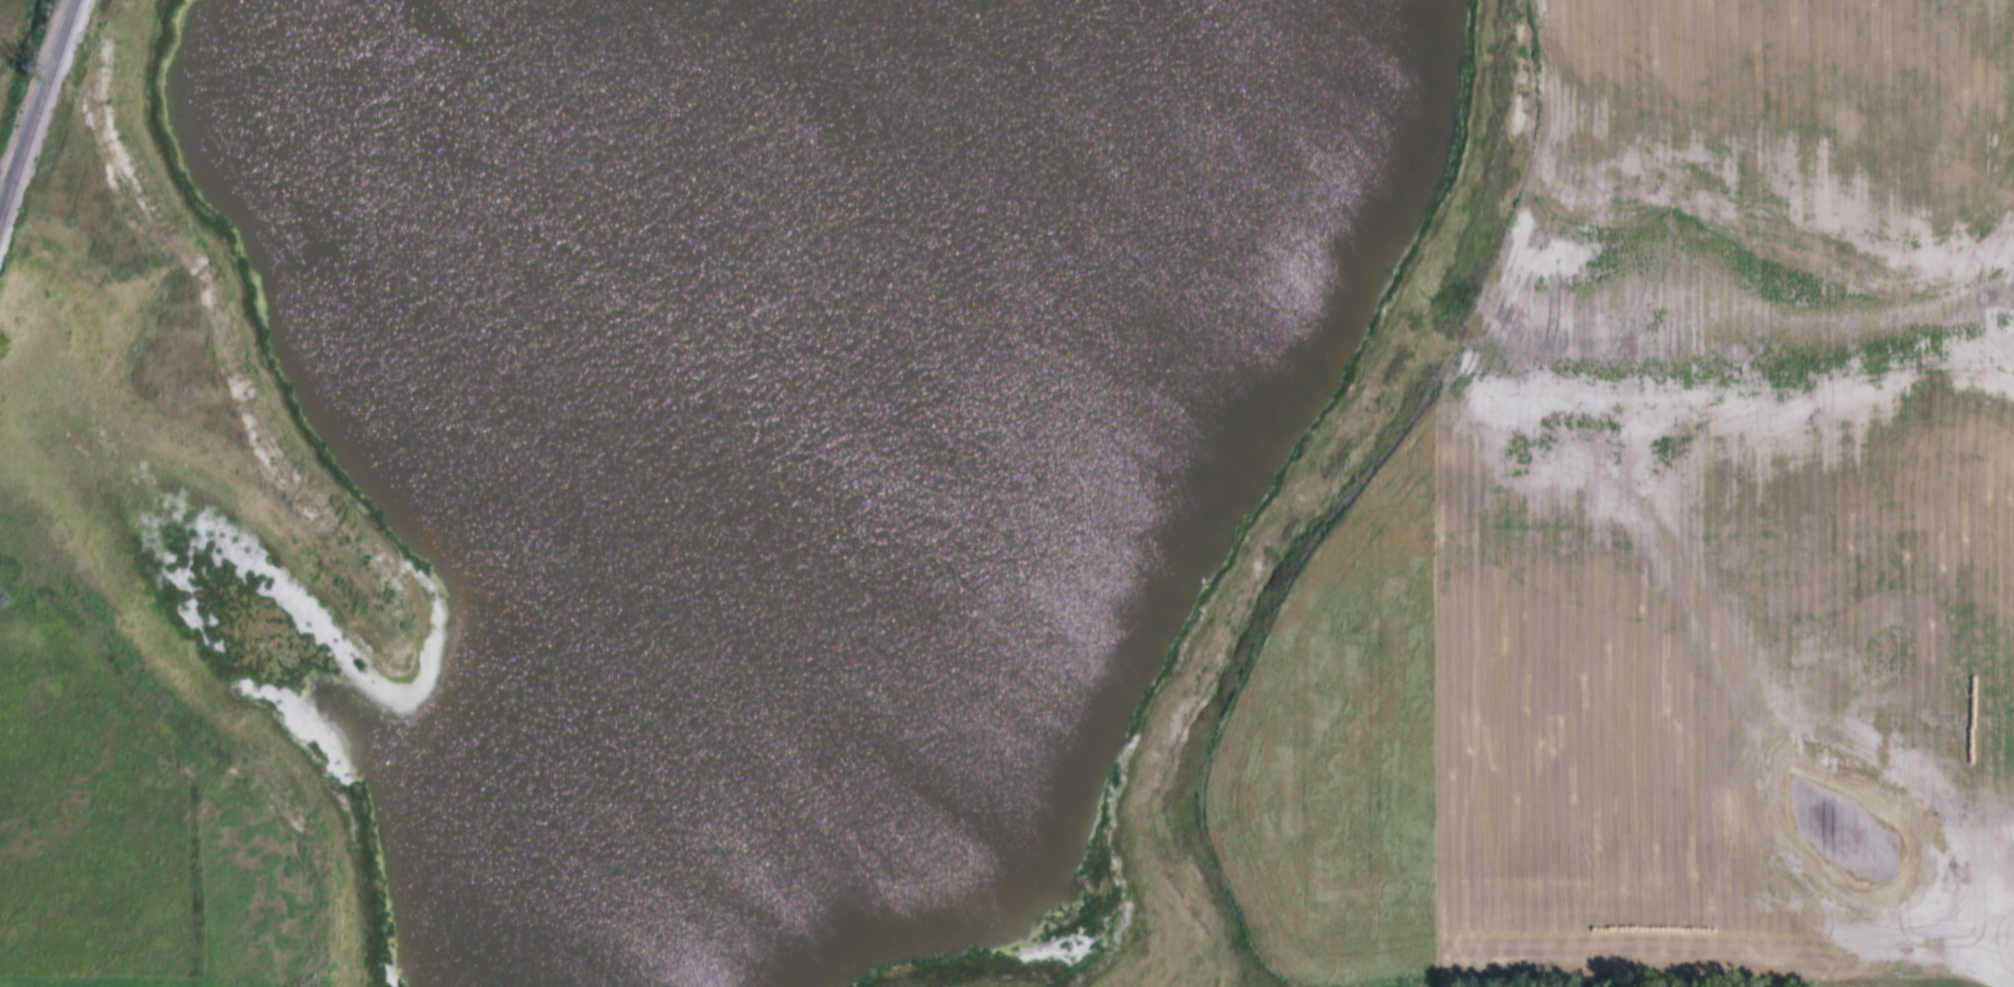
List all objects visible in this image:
railway: (37, 108)

